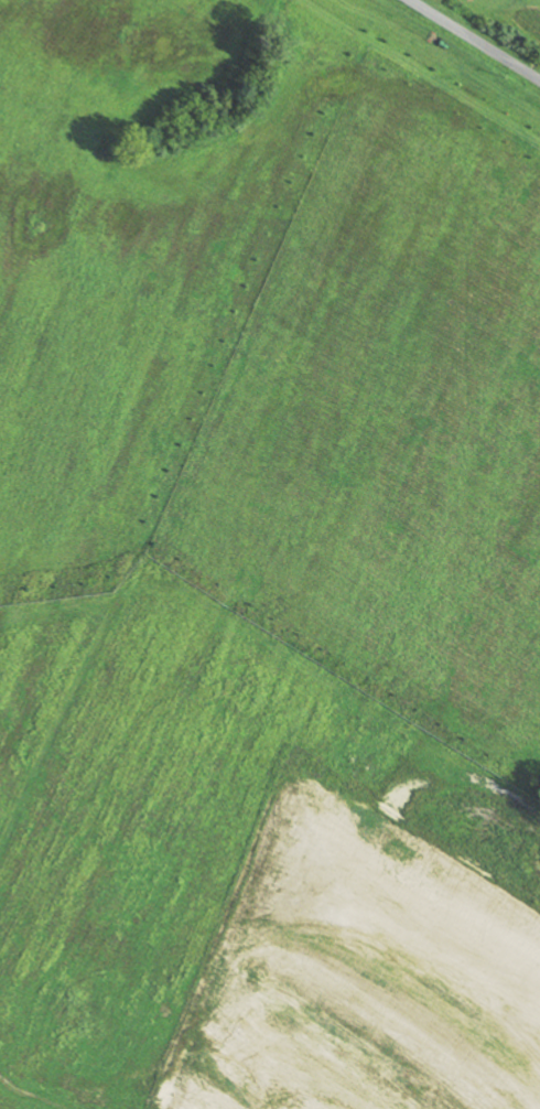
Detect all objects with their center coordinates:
road: (476, 37)

